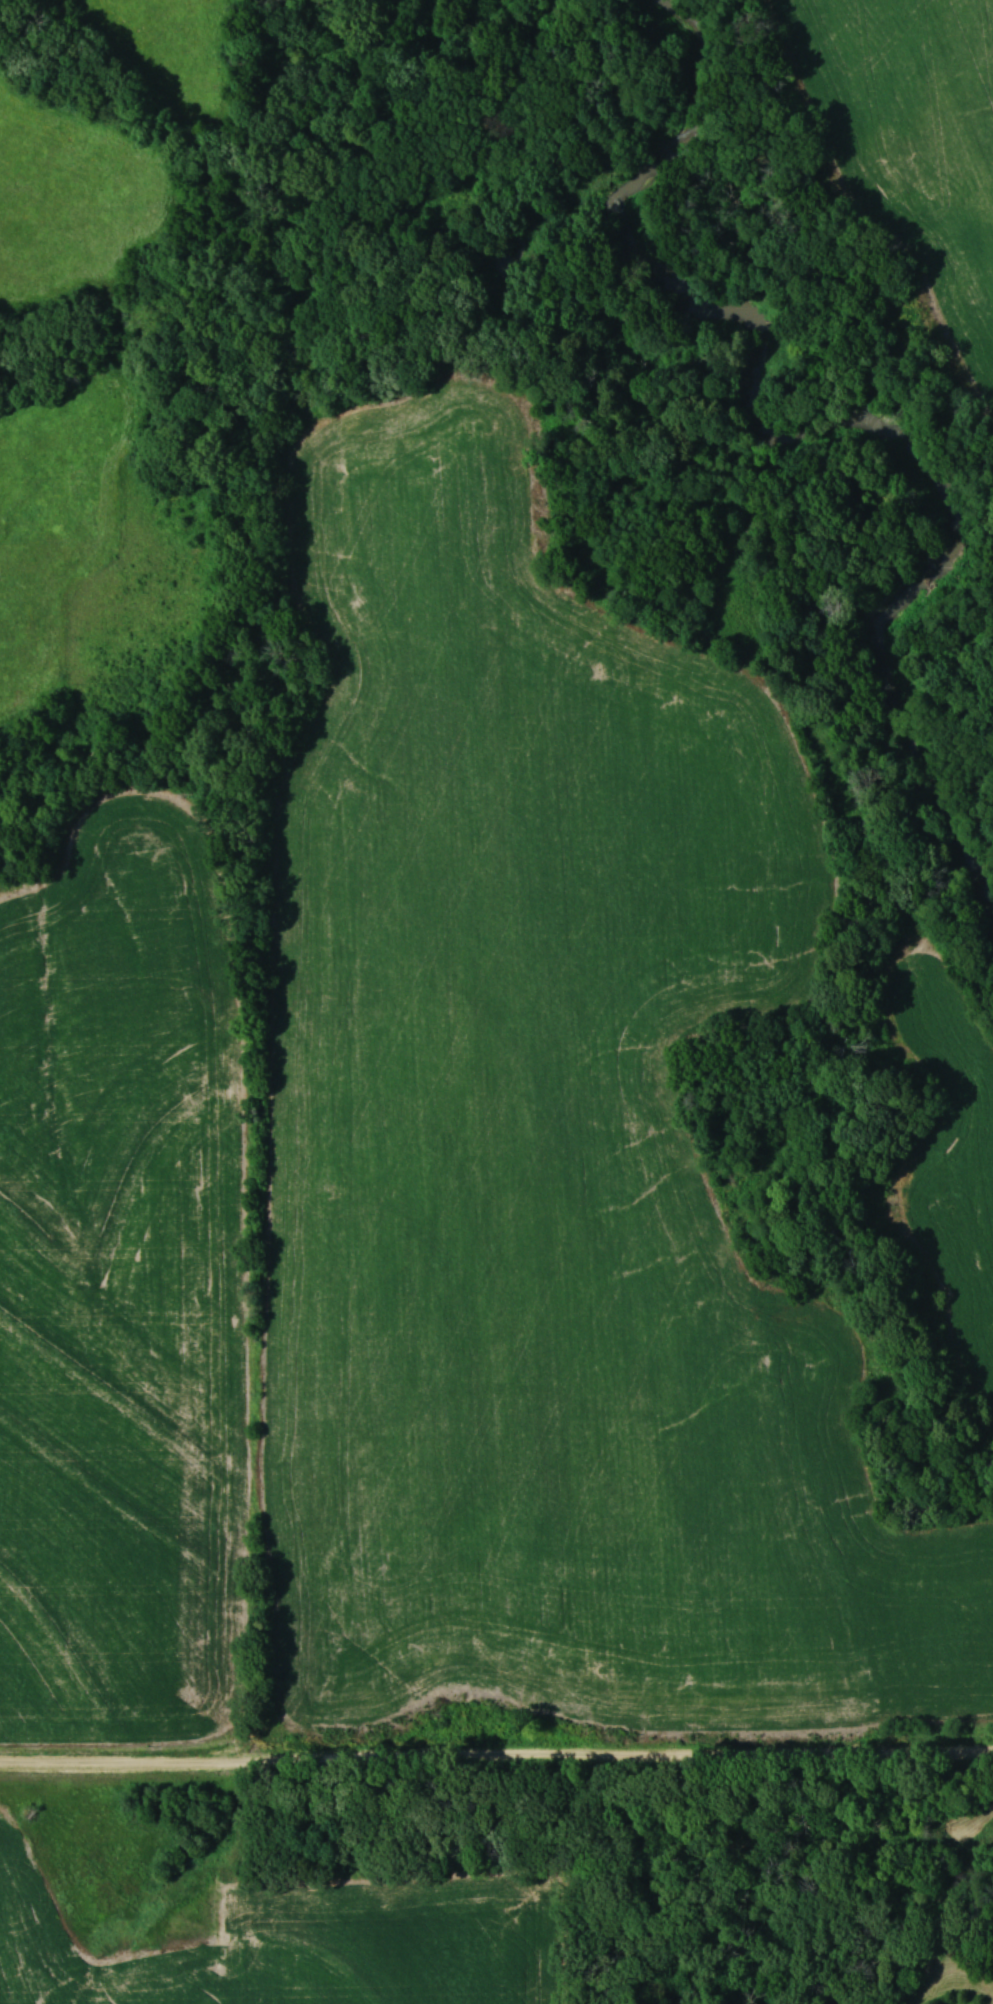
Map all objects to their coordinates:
river: (766, 368)
road: (496, 1755)

